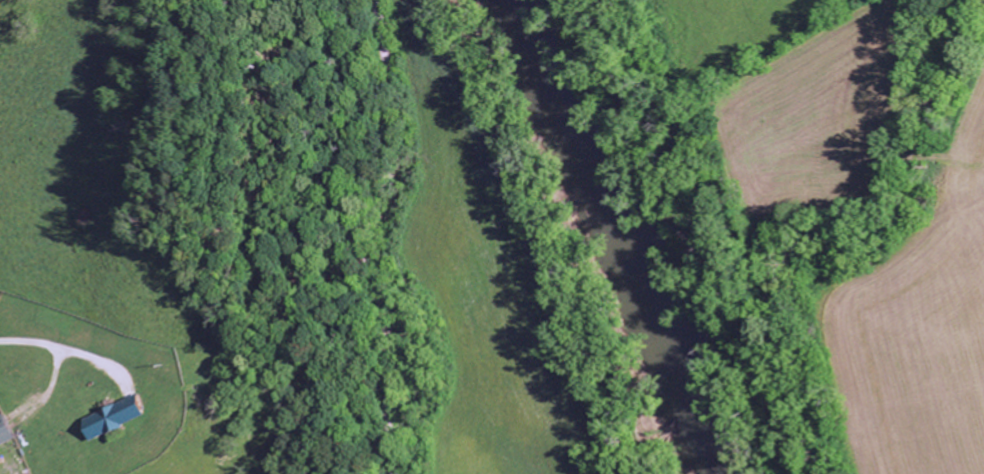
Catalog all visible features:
road: (382, 236)
river: (603, 237)
building: (116, 417)
building: (2, 432)

